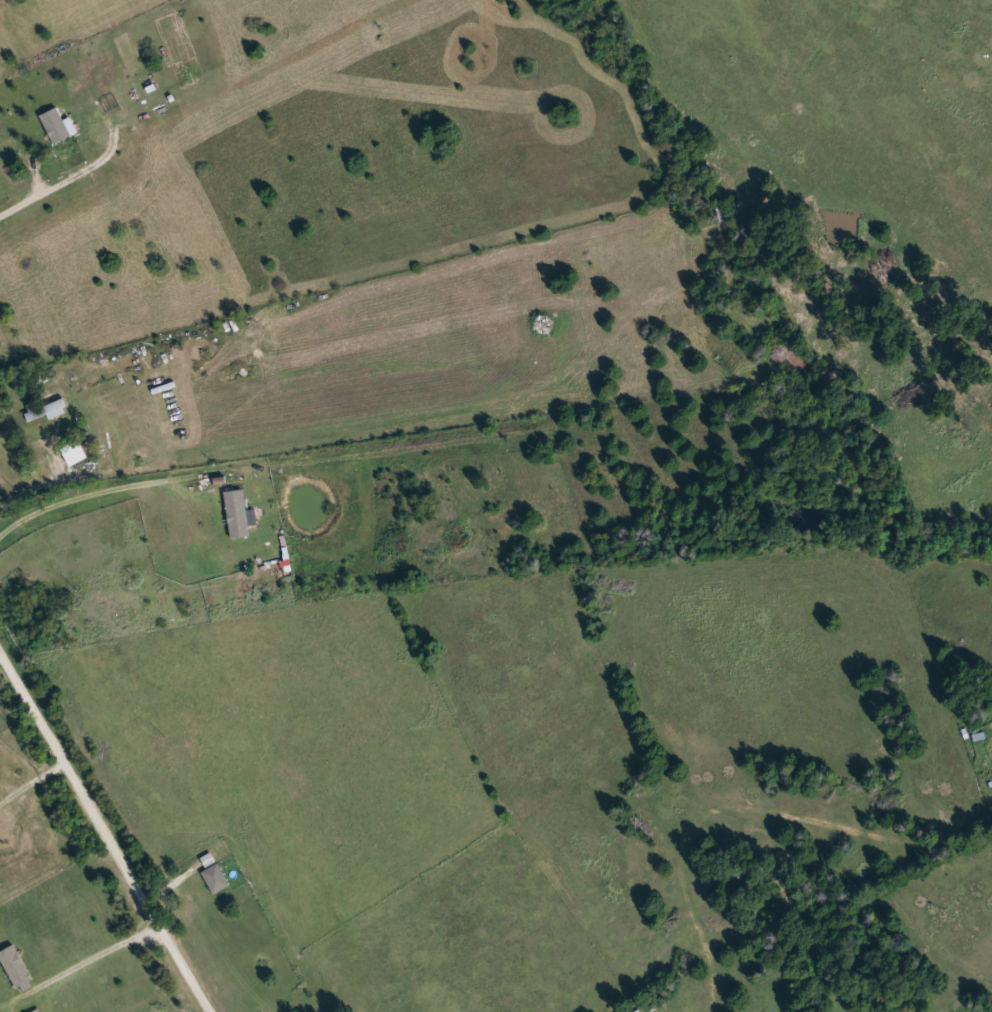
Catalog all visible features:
building: (58, 126)
building: (782, 353)
building: (31, 378)
building: (49, 411)
road: (364, 429)
building: (76, 453)
building: (238, 514)
road: (104, 831)
building: (215, 873)
building: (16, 967)
building: (40, 1011)

